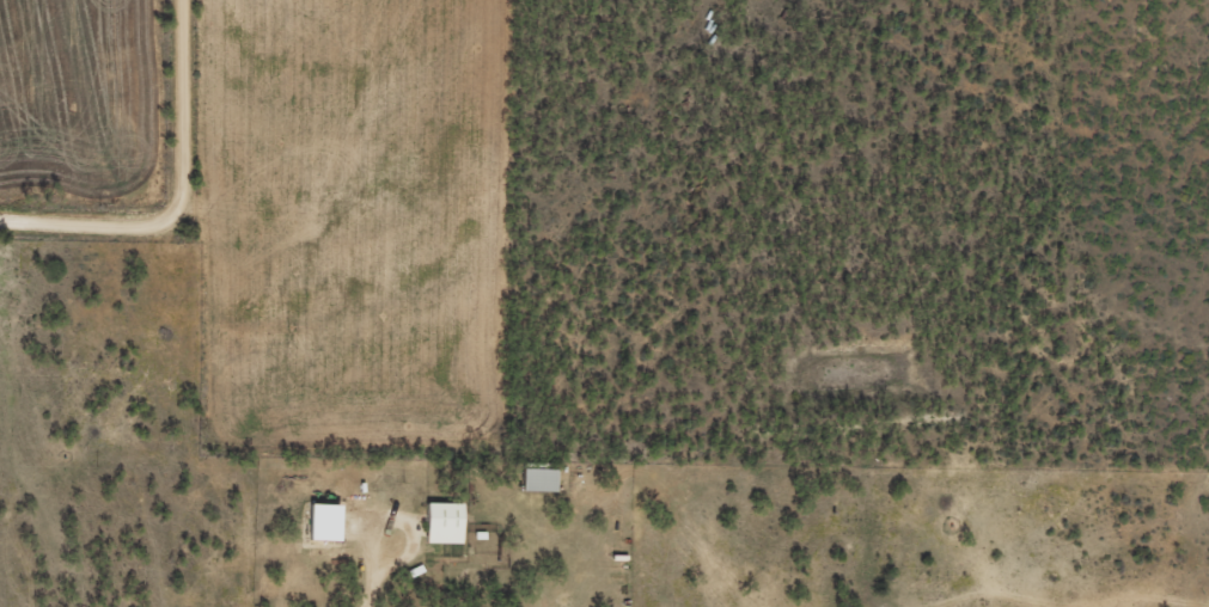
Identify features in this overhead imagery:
road: (127, 139)
building: (329, 520)
building: (448, 521)

